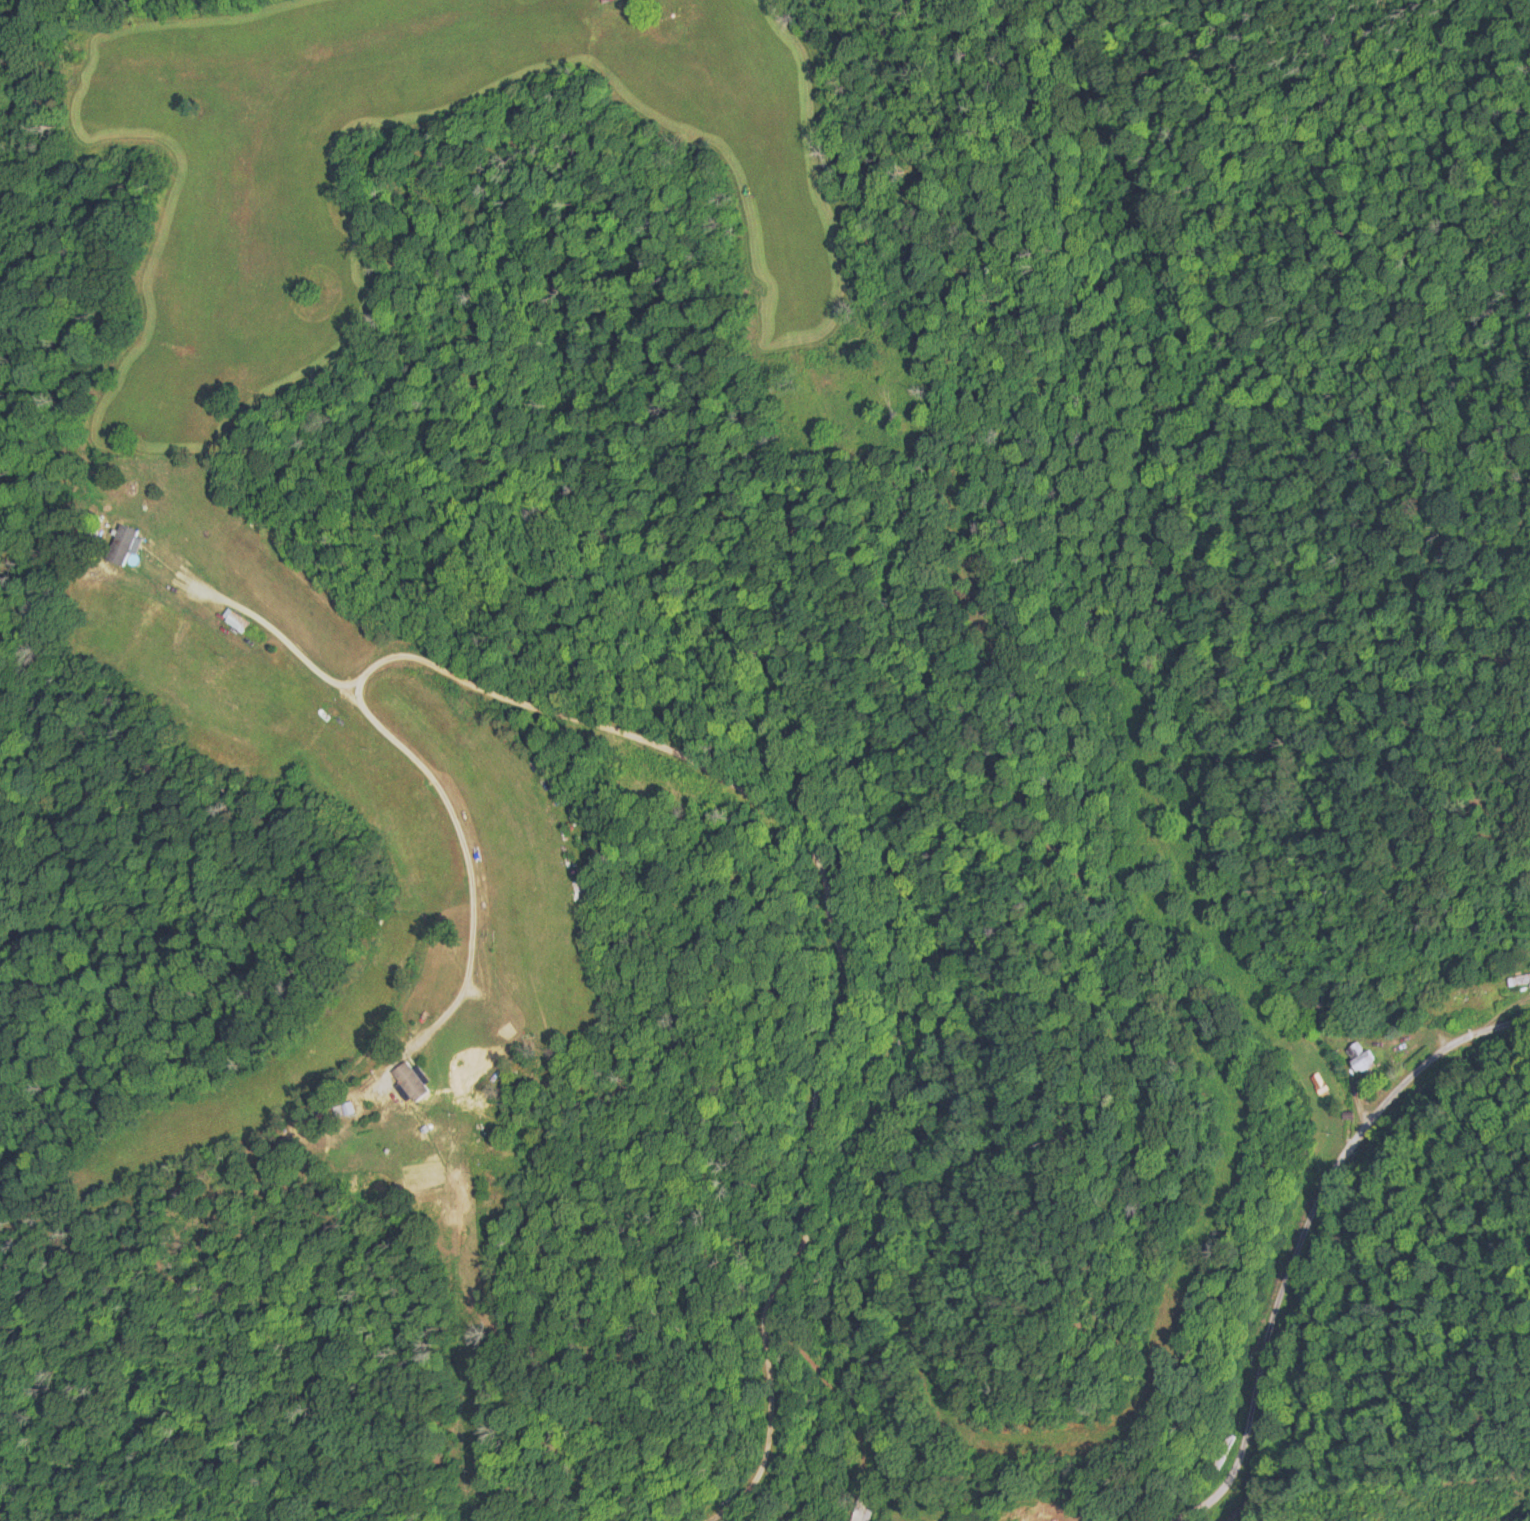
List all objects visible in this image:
building: (124, 545)
building: (1519, 980)
building: (1359, 1056)
building: (409, 1081)
road: (1293, 1229)
building: (863, 1509)
road: (28, 1513)

